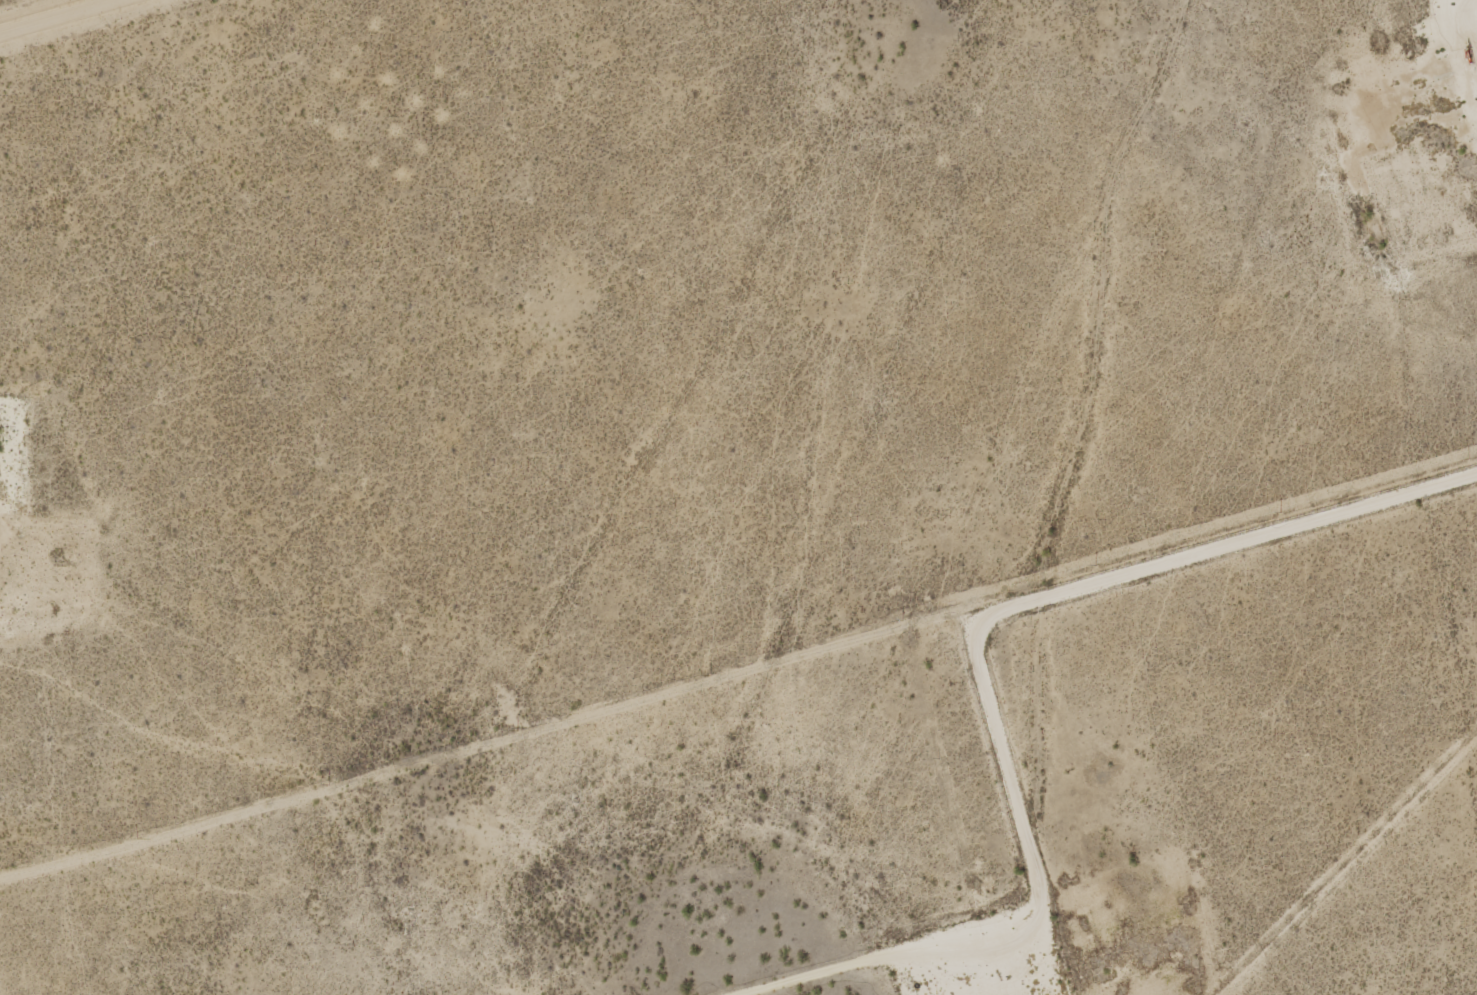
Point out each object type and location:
petroleum well: (1466, 43)

